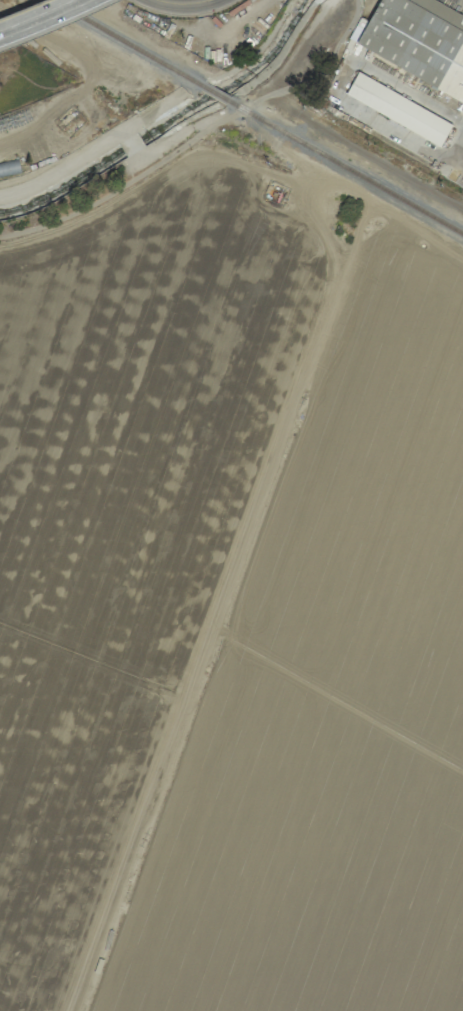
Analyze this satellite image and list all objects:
road: (167, 2)
road: (194, 2)
road: (40, 16)
building: (418, 40)
railway: (127, 43)
park: (320, 46)
road: (297, 51)
road: (341, 81)
railway: (215, 93)
building: (398, 108)
road: (196, 136)
road: (456, 150)
railway: (345, 166)
road: (456, 166)
road: (155, 178)
road: (131, 431)
road: (240, 538)
crop: (231, 608)
road: (90, 667)
road: (58, 862)

